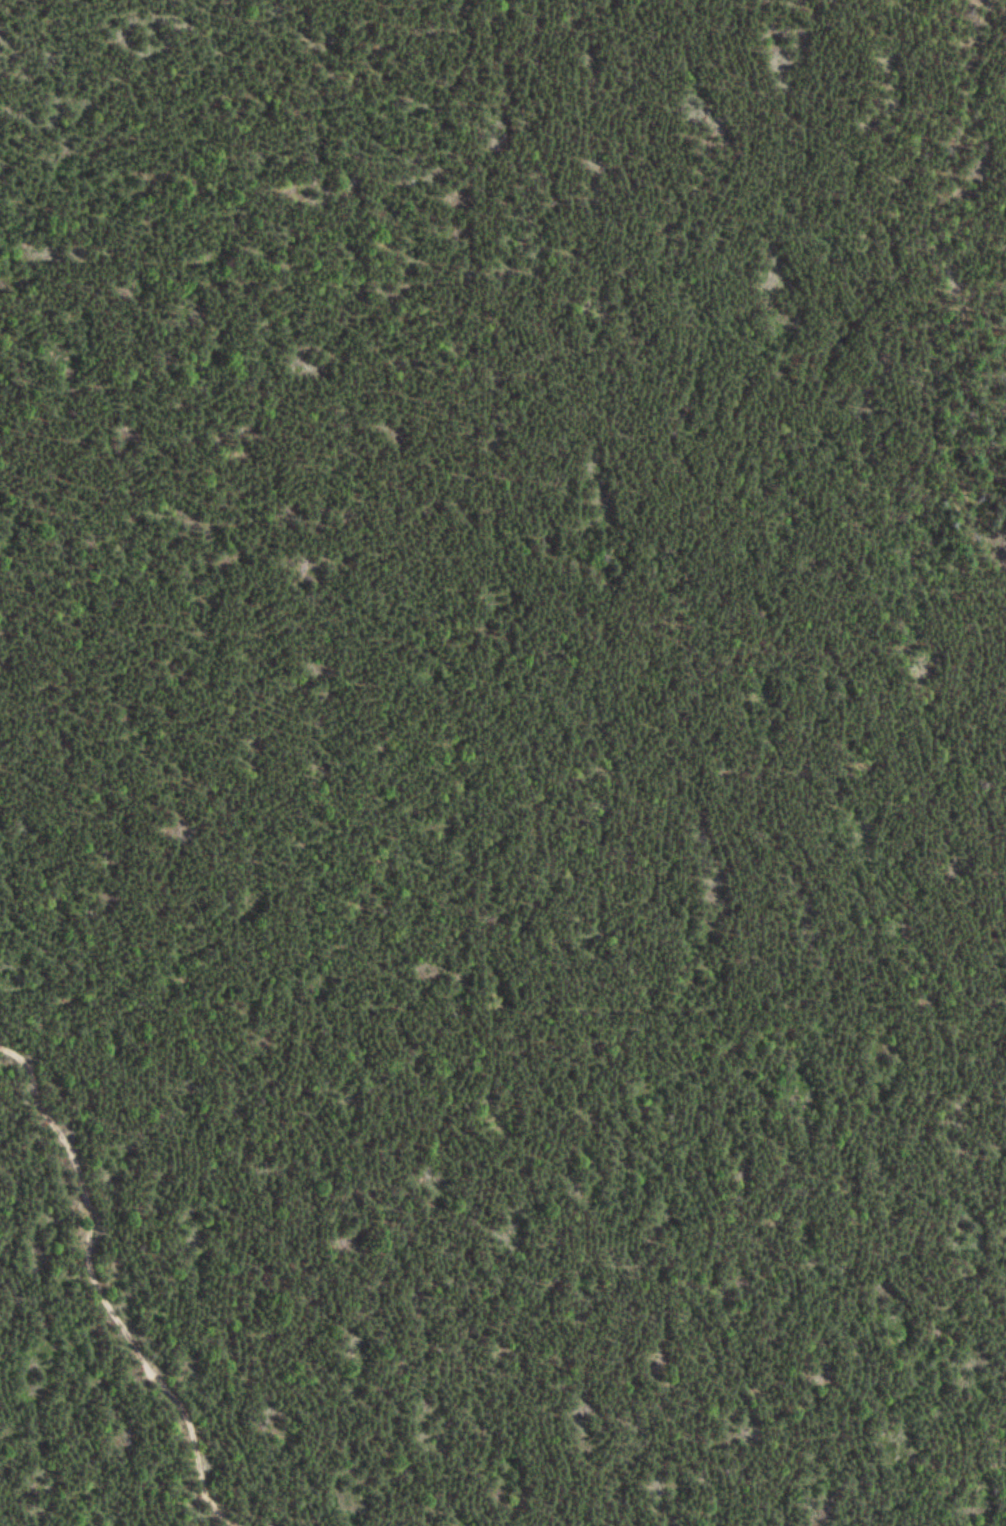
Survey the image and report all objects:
road: (99, 1293)

